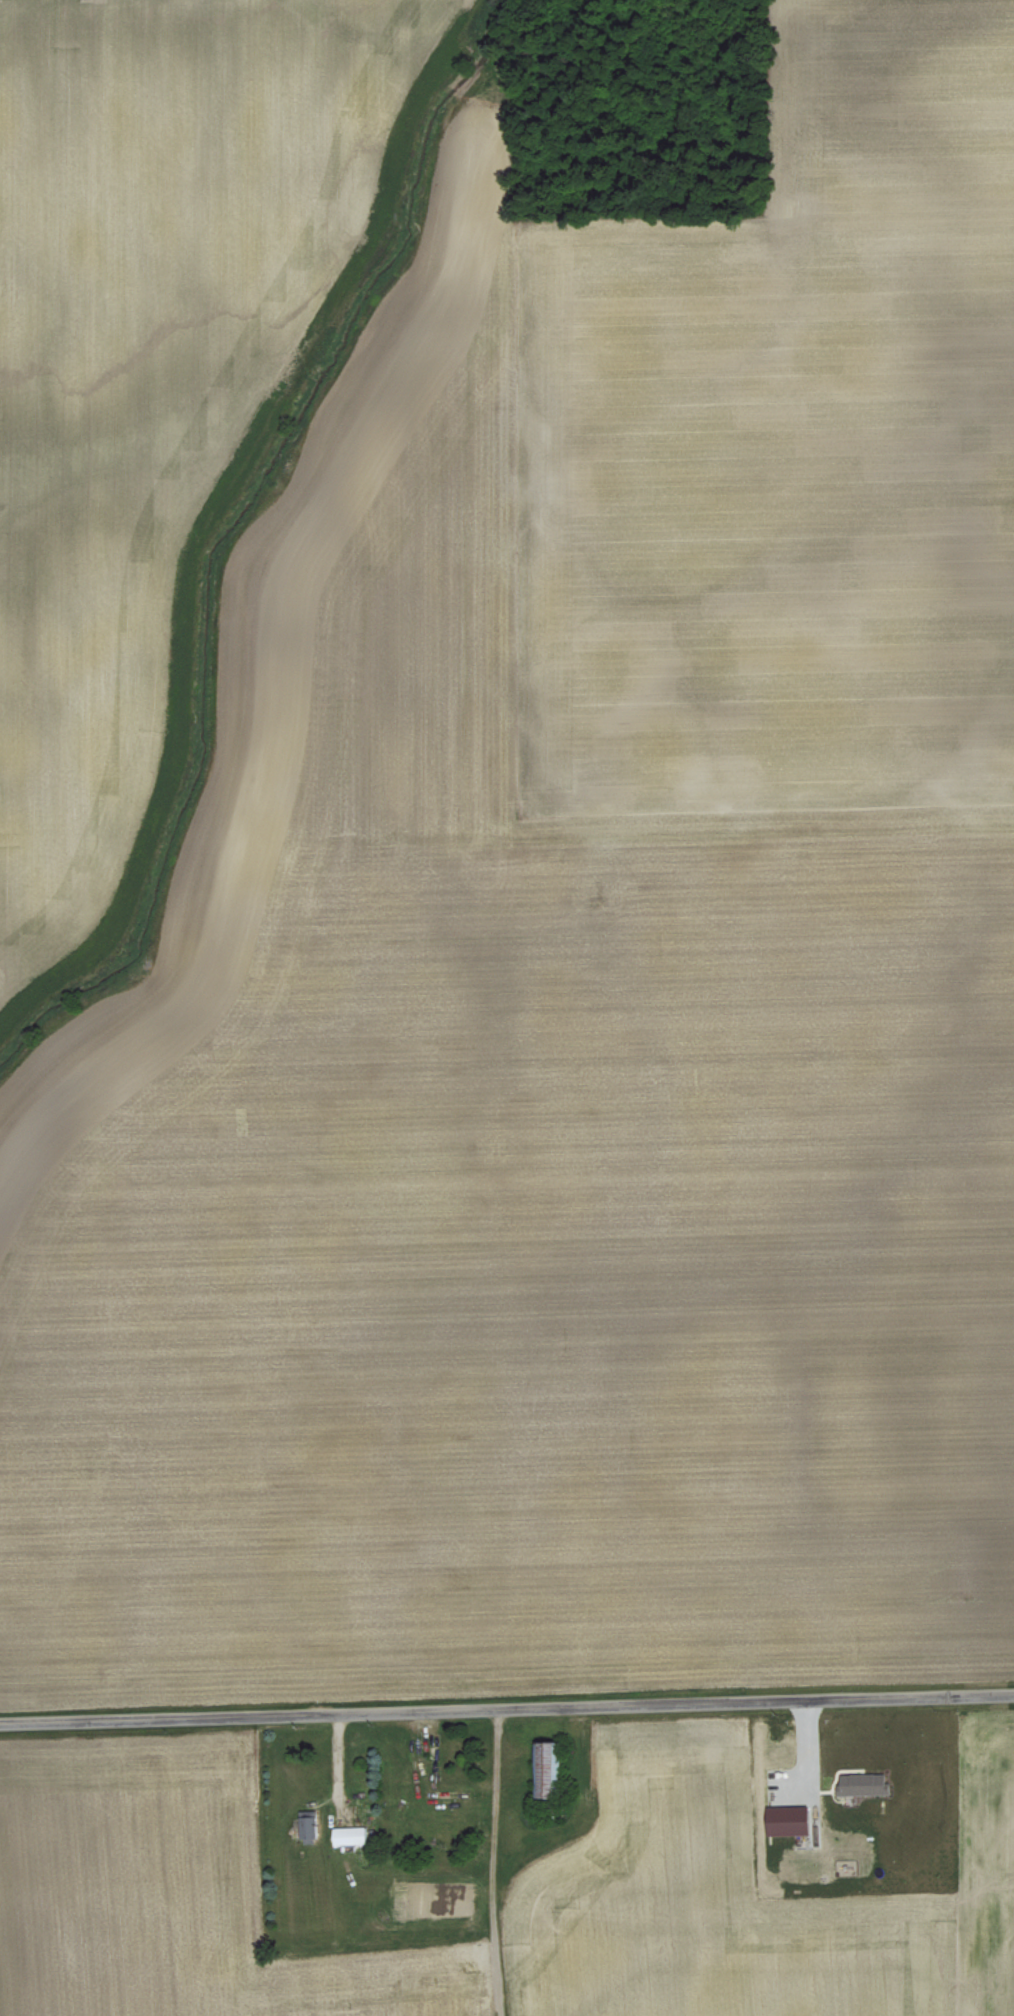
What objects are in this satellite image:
road: (507, 1708)
building: (549, 1769)
road: (332, 1777)
building: (869, 1780)
building: (789, 1821)
building: (351, 1835)

